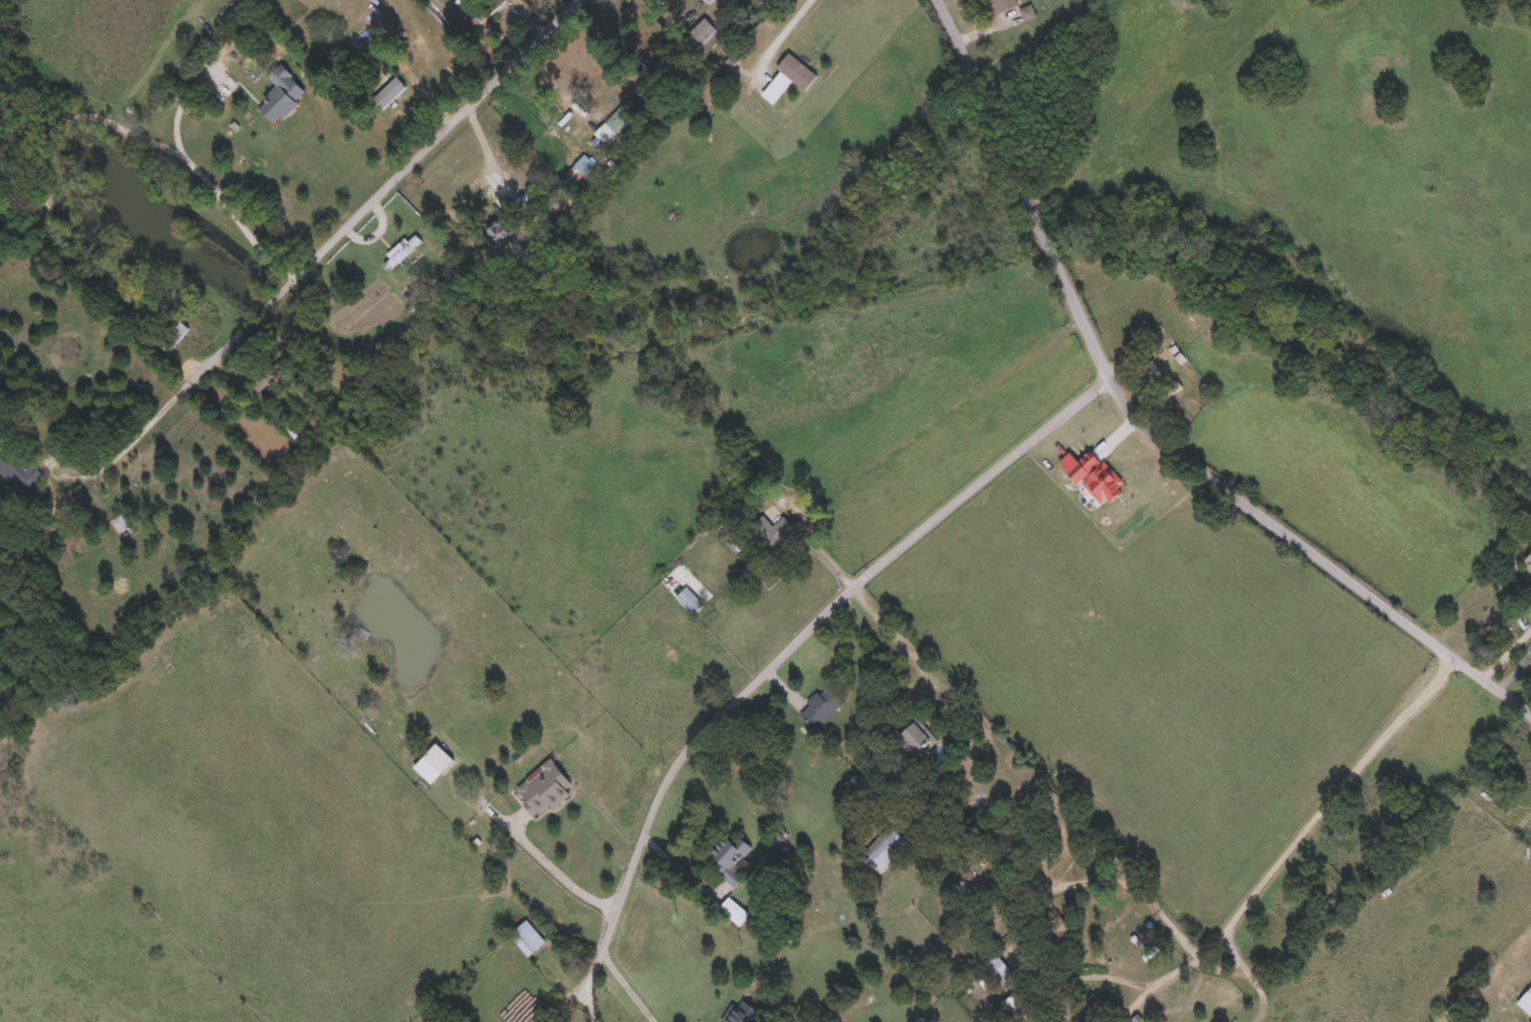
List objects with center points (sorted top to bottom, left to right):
building: (1002, 4)
building: (483, 12)
road: (795, 21)
building: (697, 34)
building: (360, 37)
building: (389, 90)
building: (280, 93)
road: (179, 102)
building: (617, 119)
road: (137, 126)
road: (491, 147)
building: (579, 167)
building: (530, 196)
road: (379, 226)
building: (496, 231)
building: (401, 250)
road: (322, 252)
building: (170, 333)
road: (951, 413)
road: (1150, 424)
building: (17, 468)
building: (119, 522)
building: (771, 530)
building: (741, 544)
road: (819, 544)
building: (1527, 561)
building: (689, 599)
road: (894, 630)
road: (783, 649)
road: (1508, 651)
building: (820, 706)
building: (917, 735)
building: (432, 762)
building: (542, 787)
road: (1329, 796)
building: (1020, 846)
building: (886, 847)
building: (730, 860)
road: (678, 866)
road: (558, 872)
road: (1139, 890)
building: (1057, 925)
building: (526, 937)
building: (993, 969)
road: (1250, 973)
road: (1153, 981)
road: (627, 985)
building: (1526, 1000)
building: (1015, 1003)
road: (571, 1006)
building: (741, 1012)
building: (1530, 1021)

